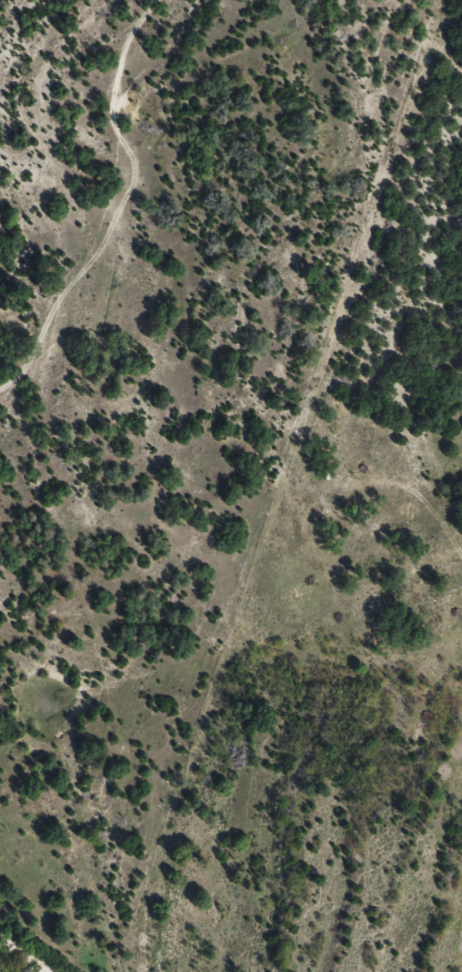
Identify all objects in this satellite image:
road: (17, 959)

